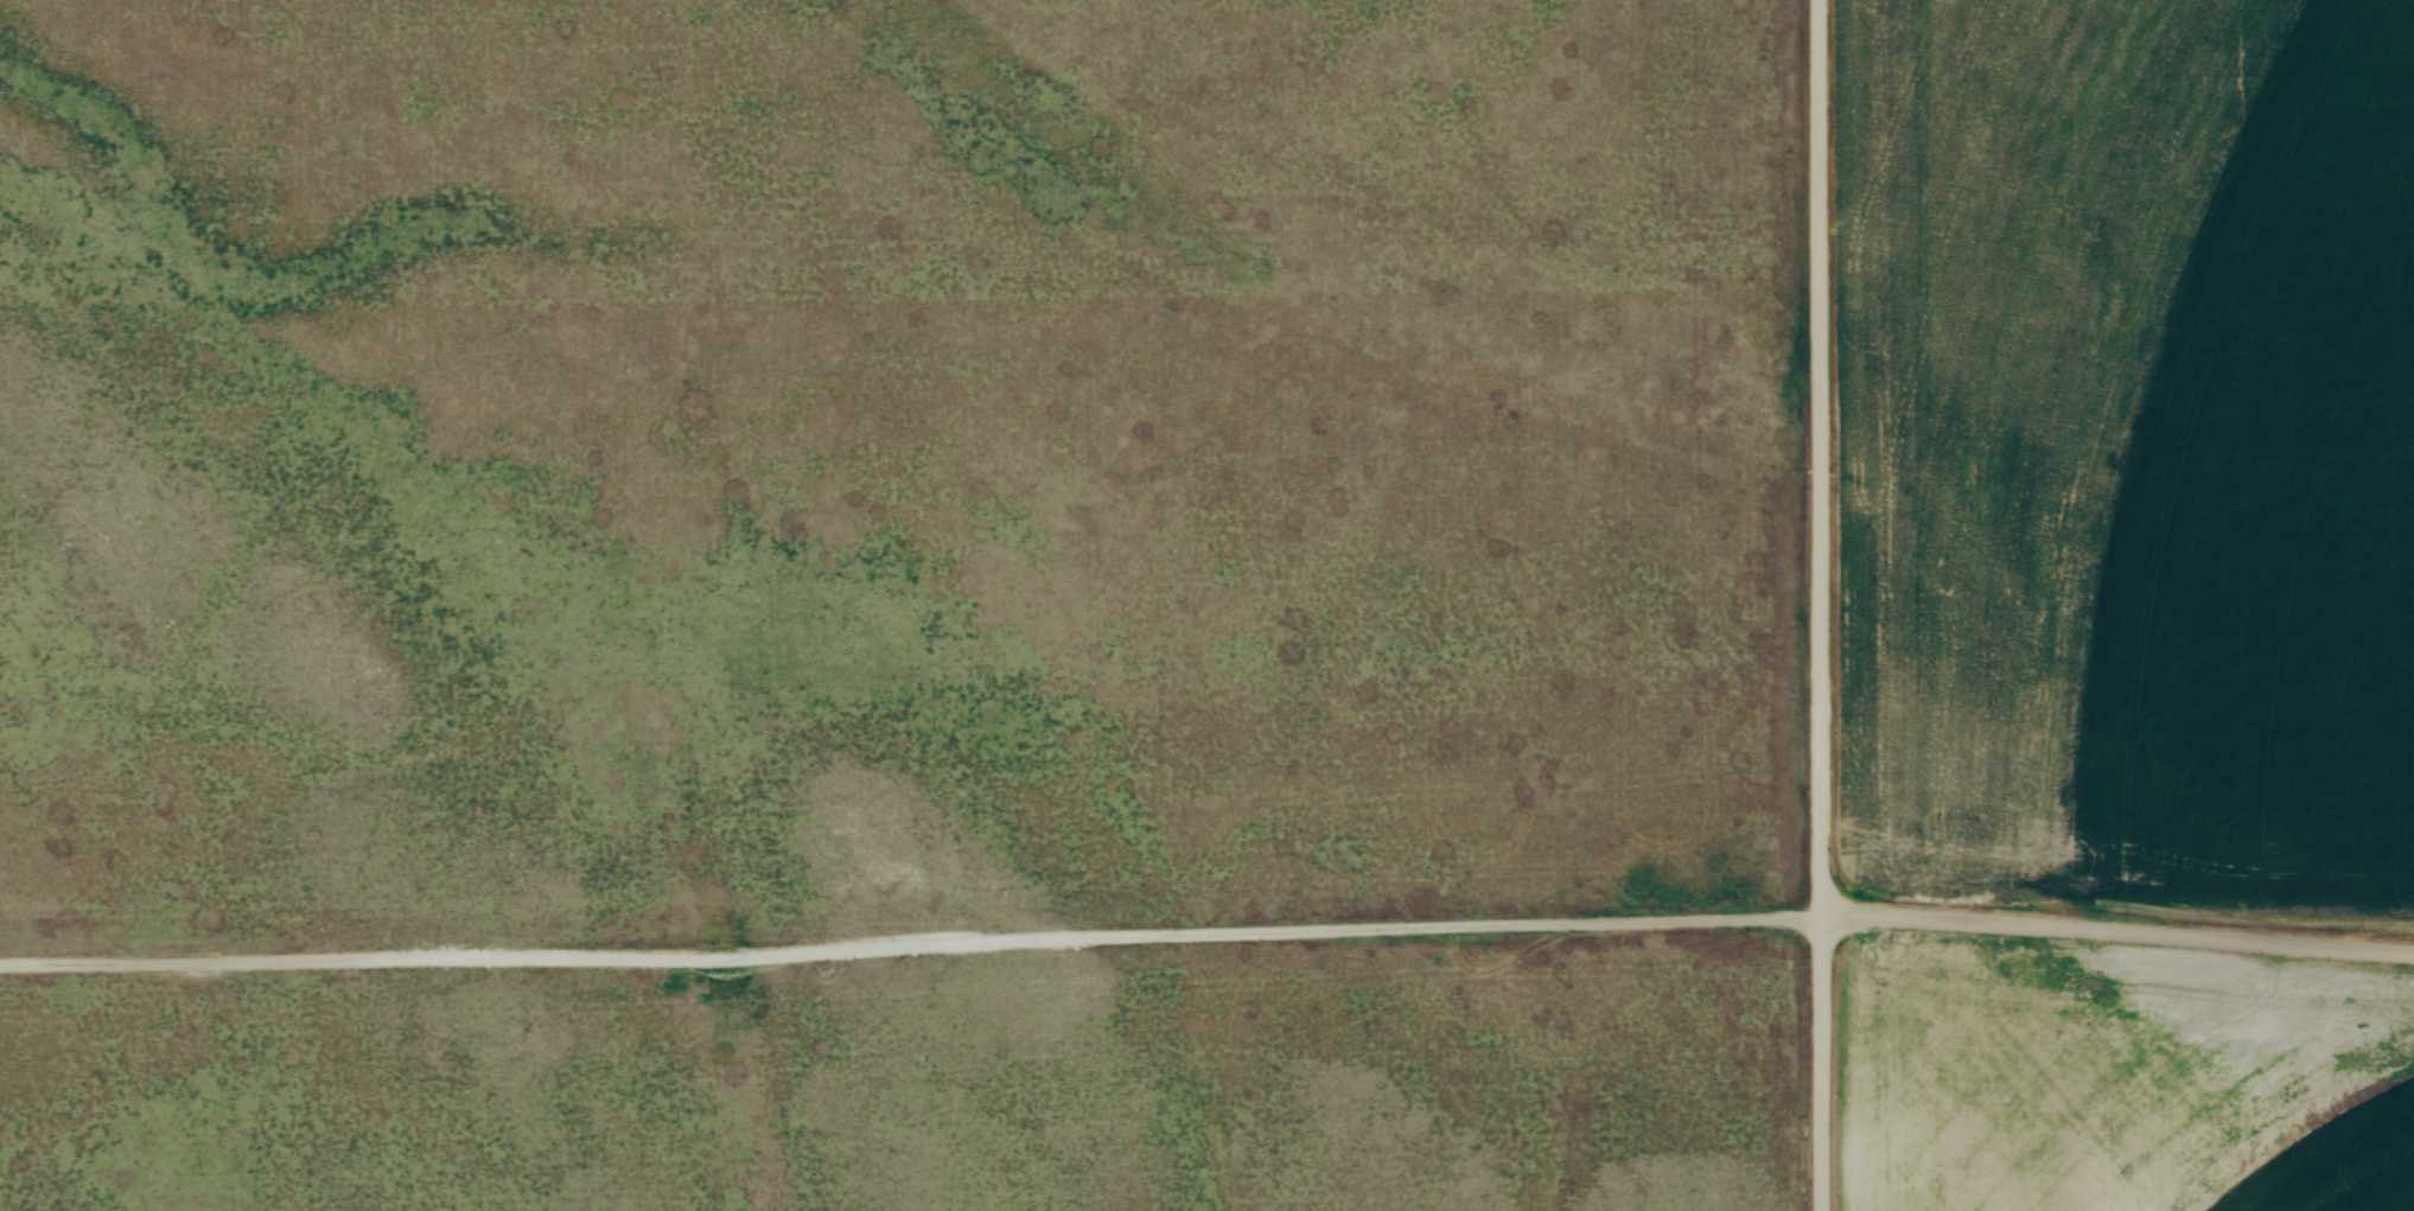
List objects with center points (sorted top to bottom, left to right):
road: (1821, 605)
road: (1208, 941)

